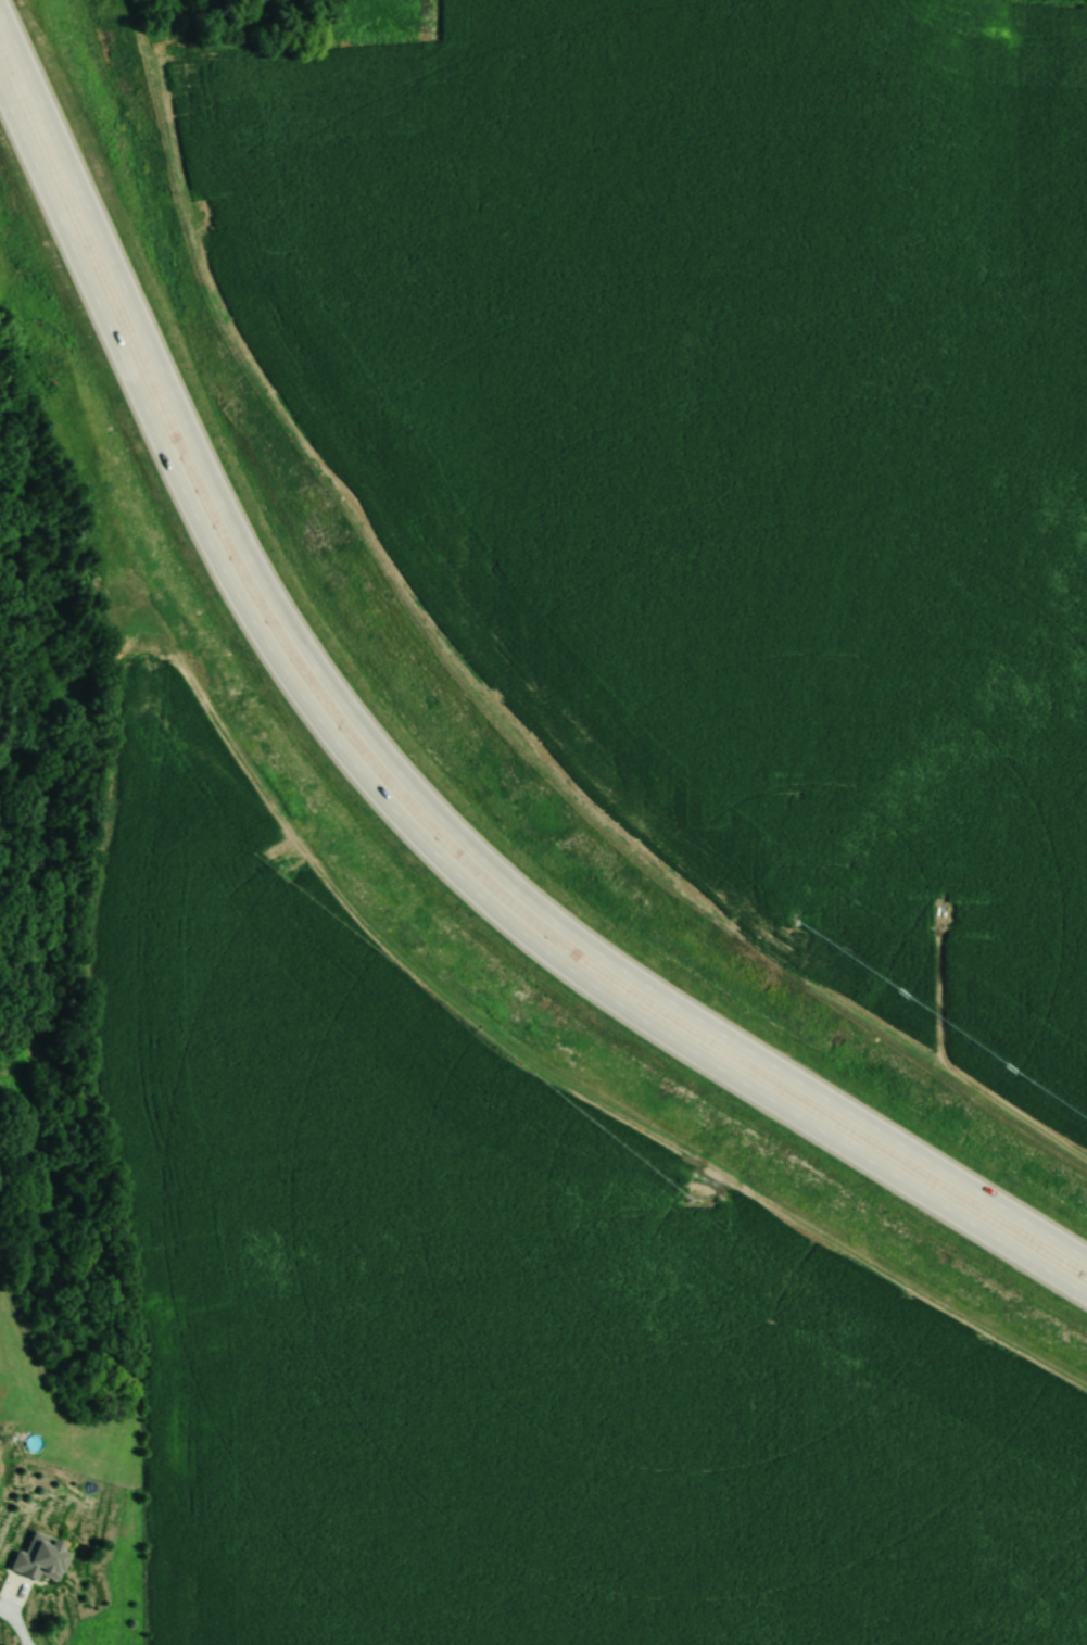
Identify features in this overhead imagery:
road: (388, 764)
road: (392, 818)
crop: (507, 1319)
building: (40, 1557)

